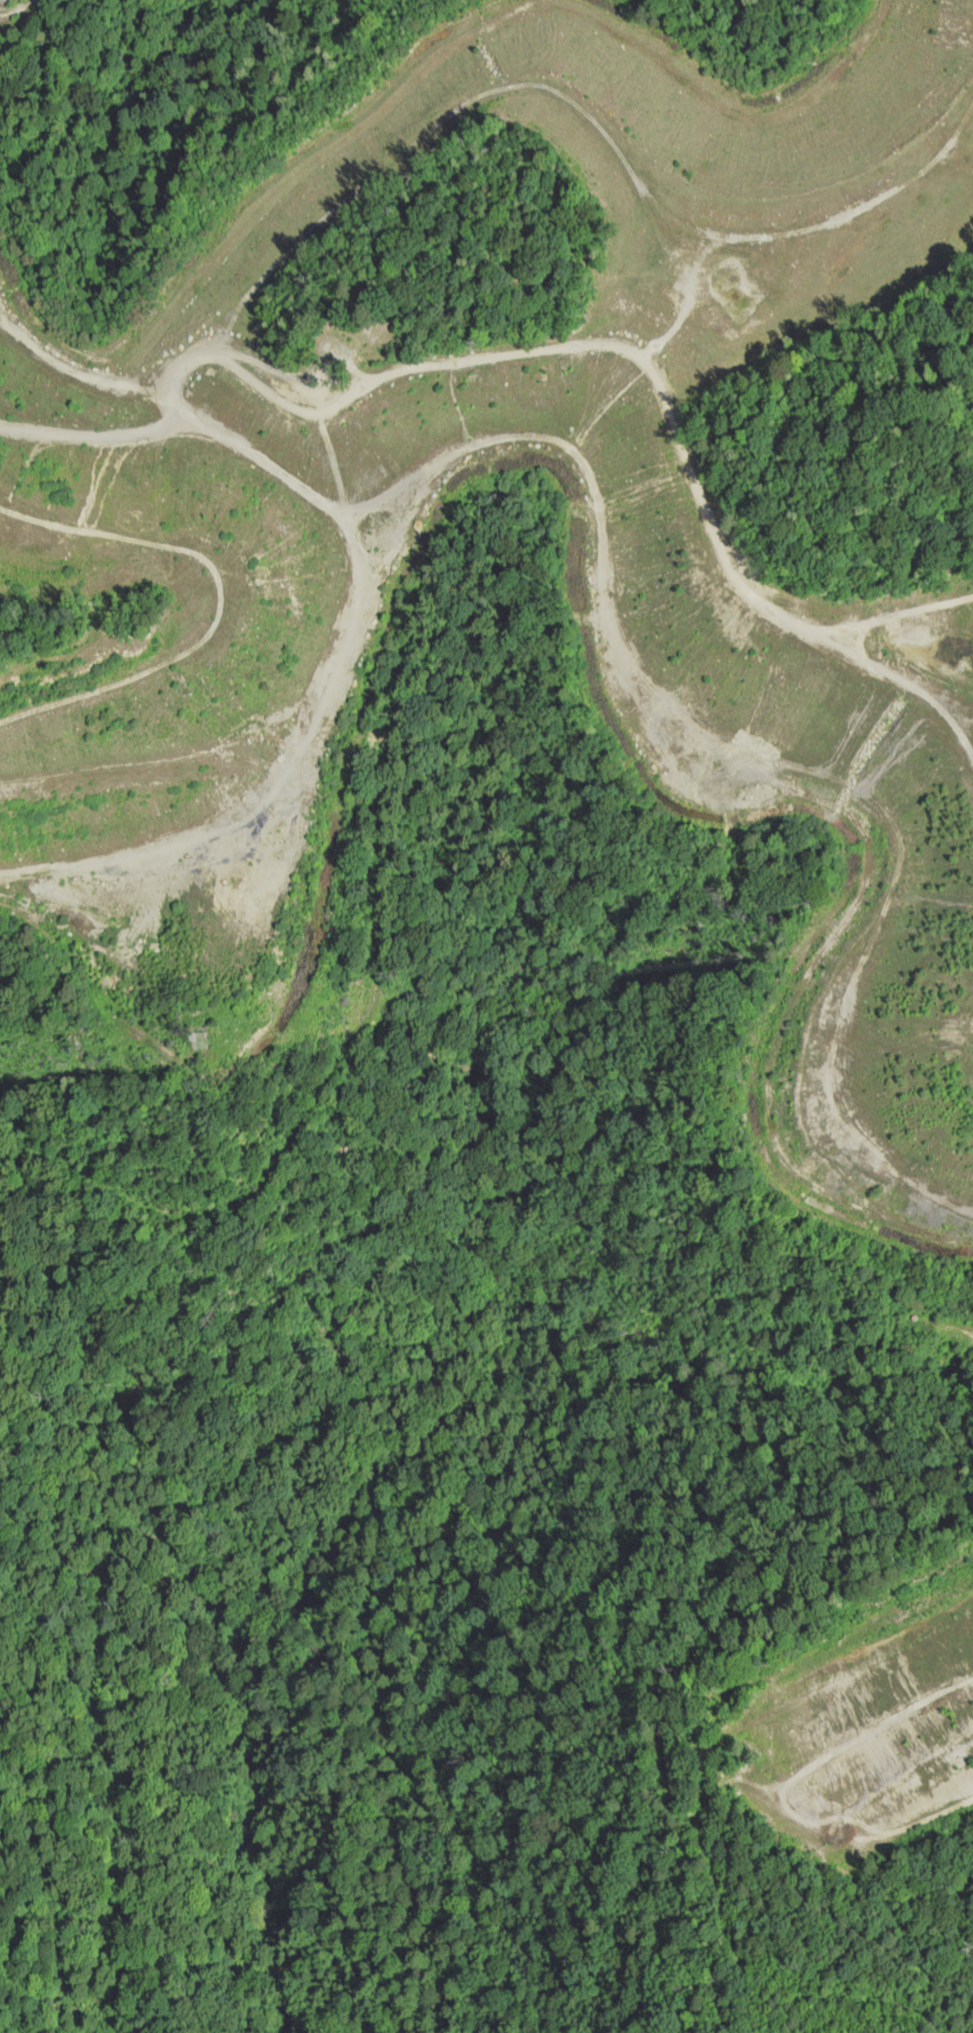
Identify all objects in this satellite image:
power tower: (206, 1040)

